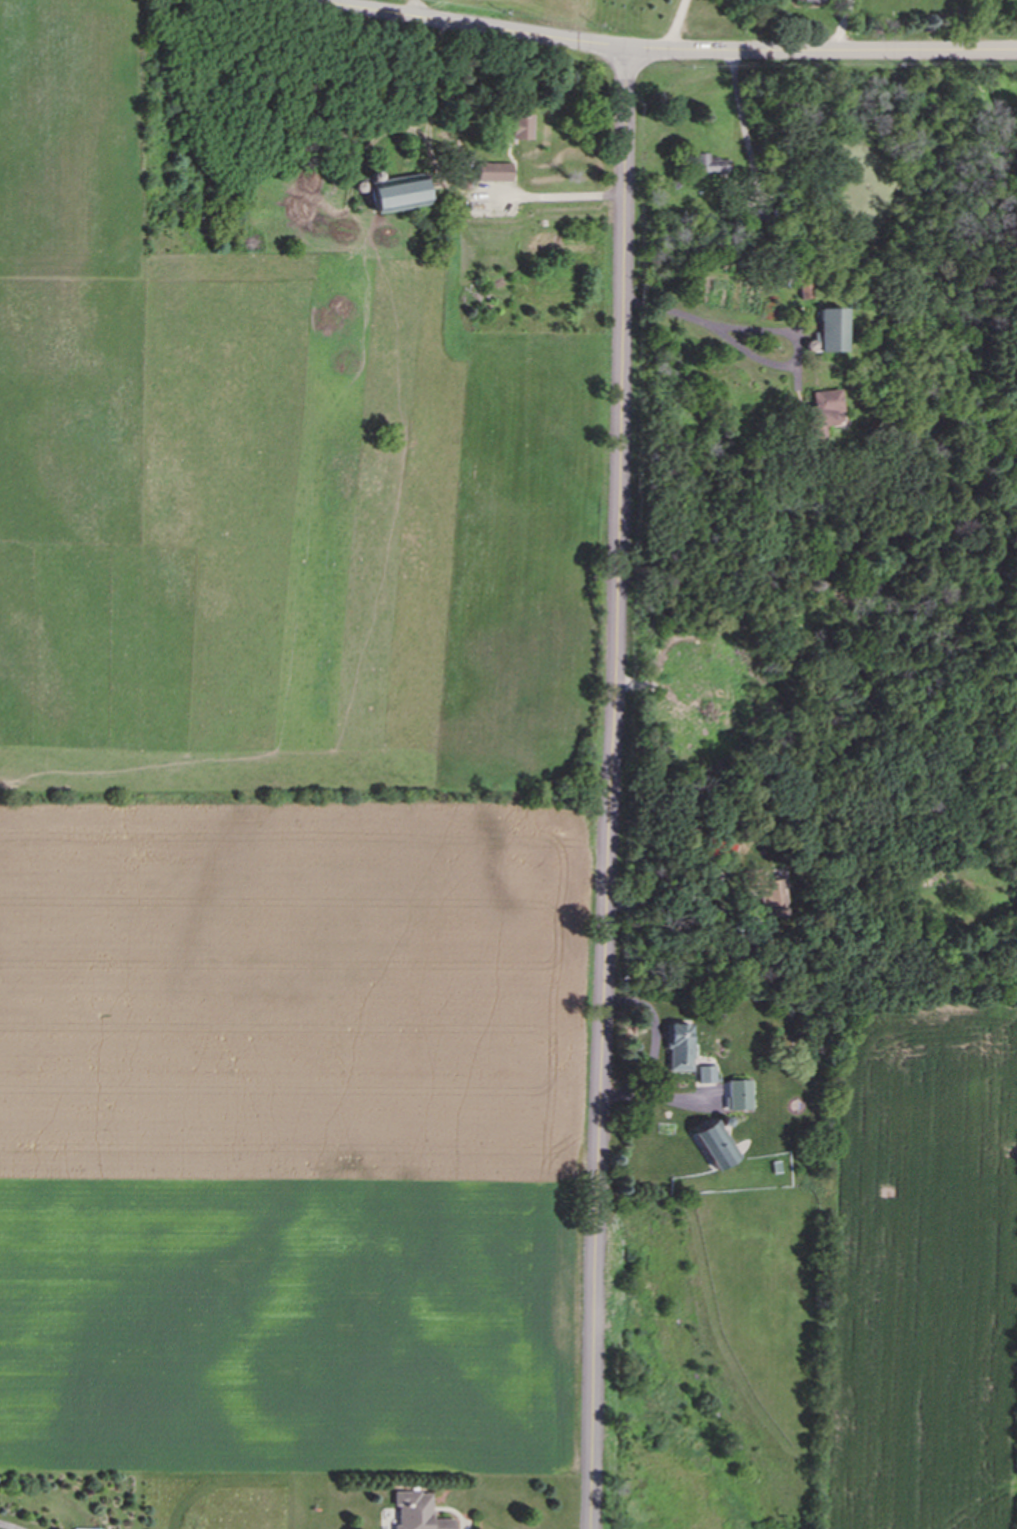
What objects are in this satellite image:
building: (812, 0)
road: (413, 8)
road: (674, 25)
road: (841, 25)
road: (660, 49)
road: (737, 112)
building: (518, 126)
building: (707, 164)
building: (493, 172)
road: (453, 184)
building: (397, 193)
building: (801, 288)
building: (826, 331)
road: (756, 357)
building: (822, 410)
road: (611, 789)
building: (721, 850)
building: (767, 893)
road: (673, 895)
road: (653, 1042)
building: (679, 1047)
building: (706, 1074)
building: (737, 1095)
crop: (294, 1138)
building: (714, 1145)
crop: (923, 1272)
building: (416, 1512)
road: (9, 1525)

